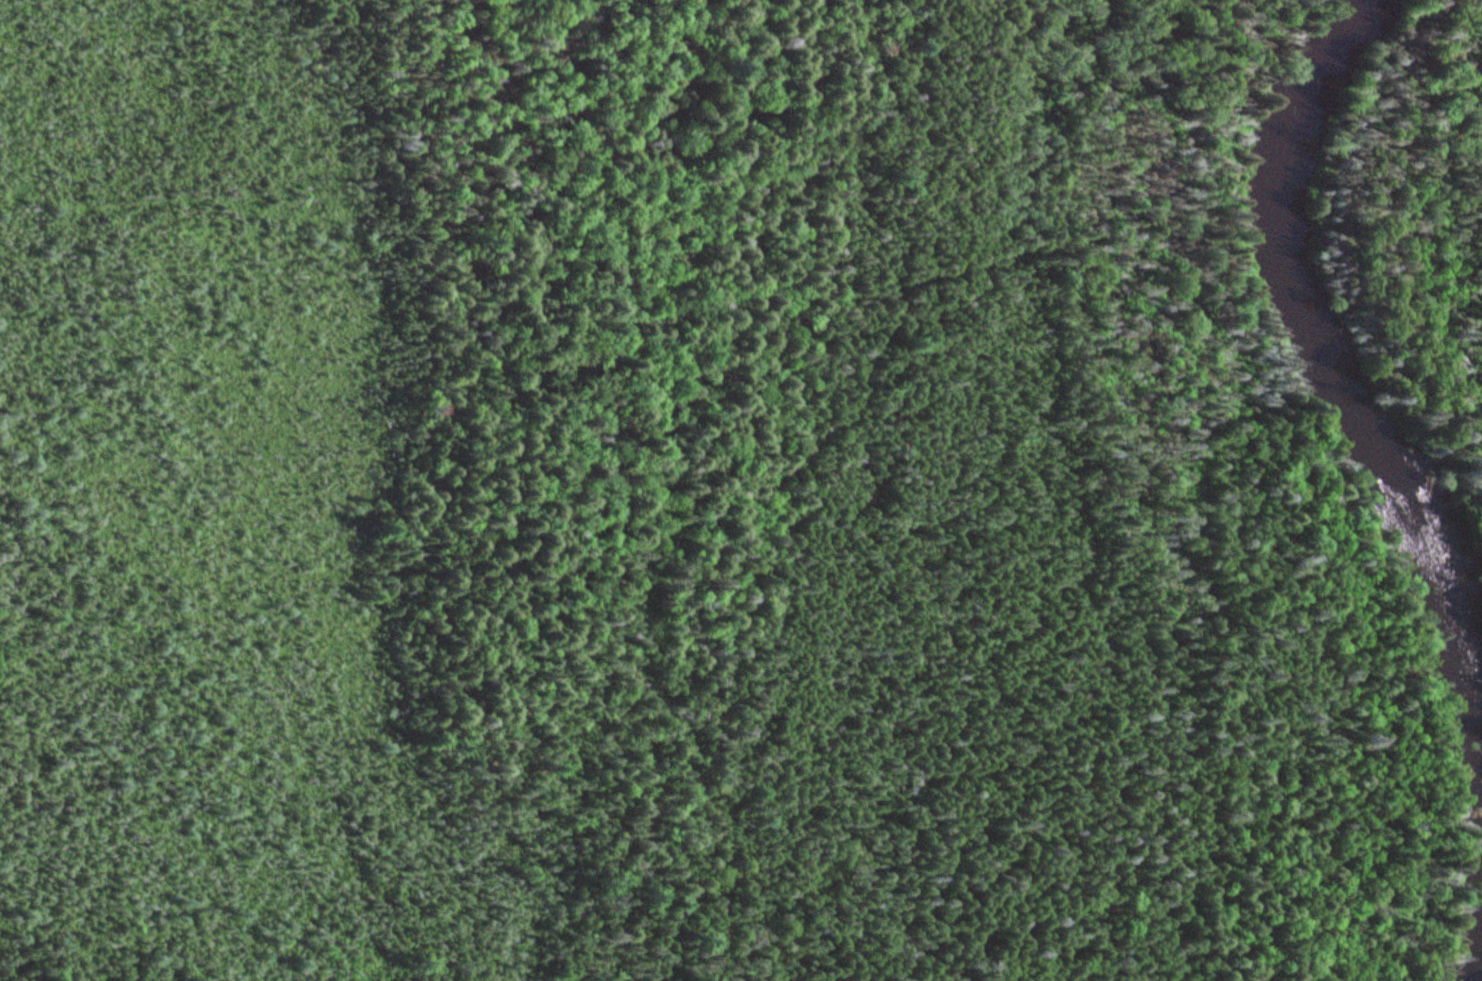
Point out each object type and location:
river: (1308, 362)
river: (1477, 972)

